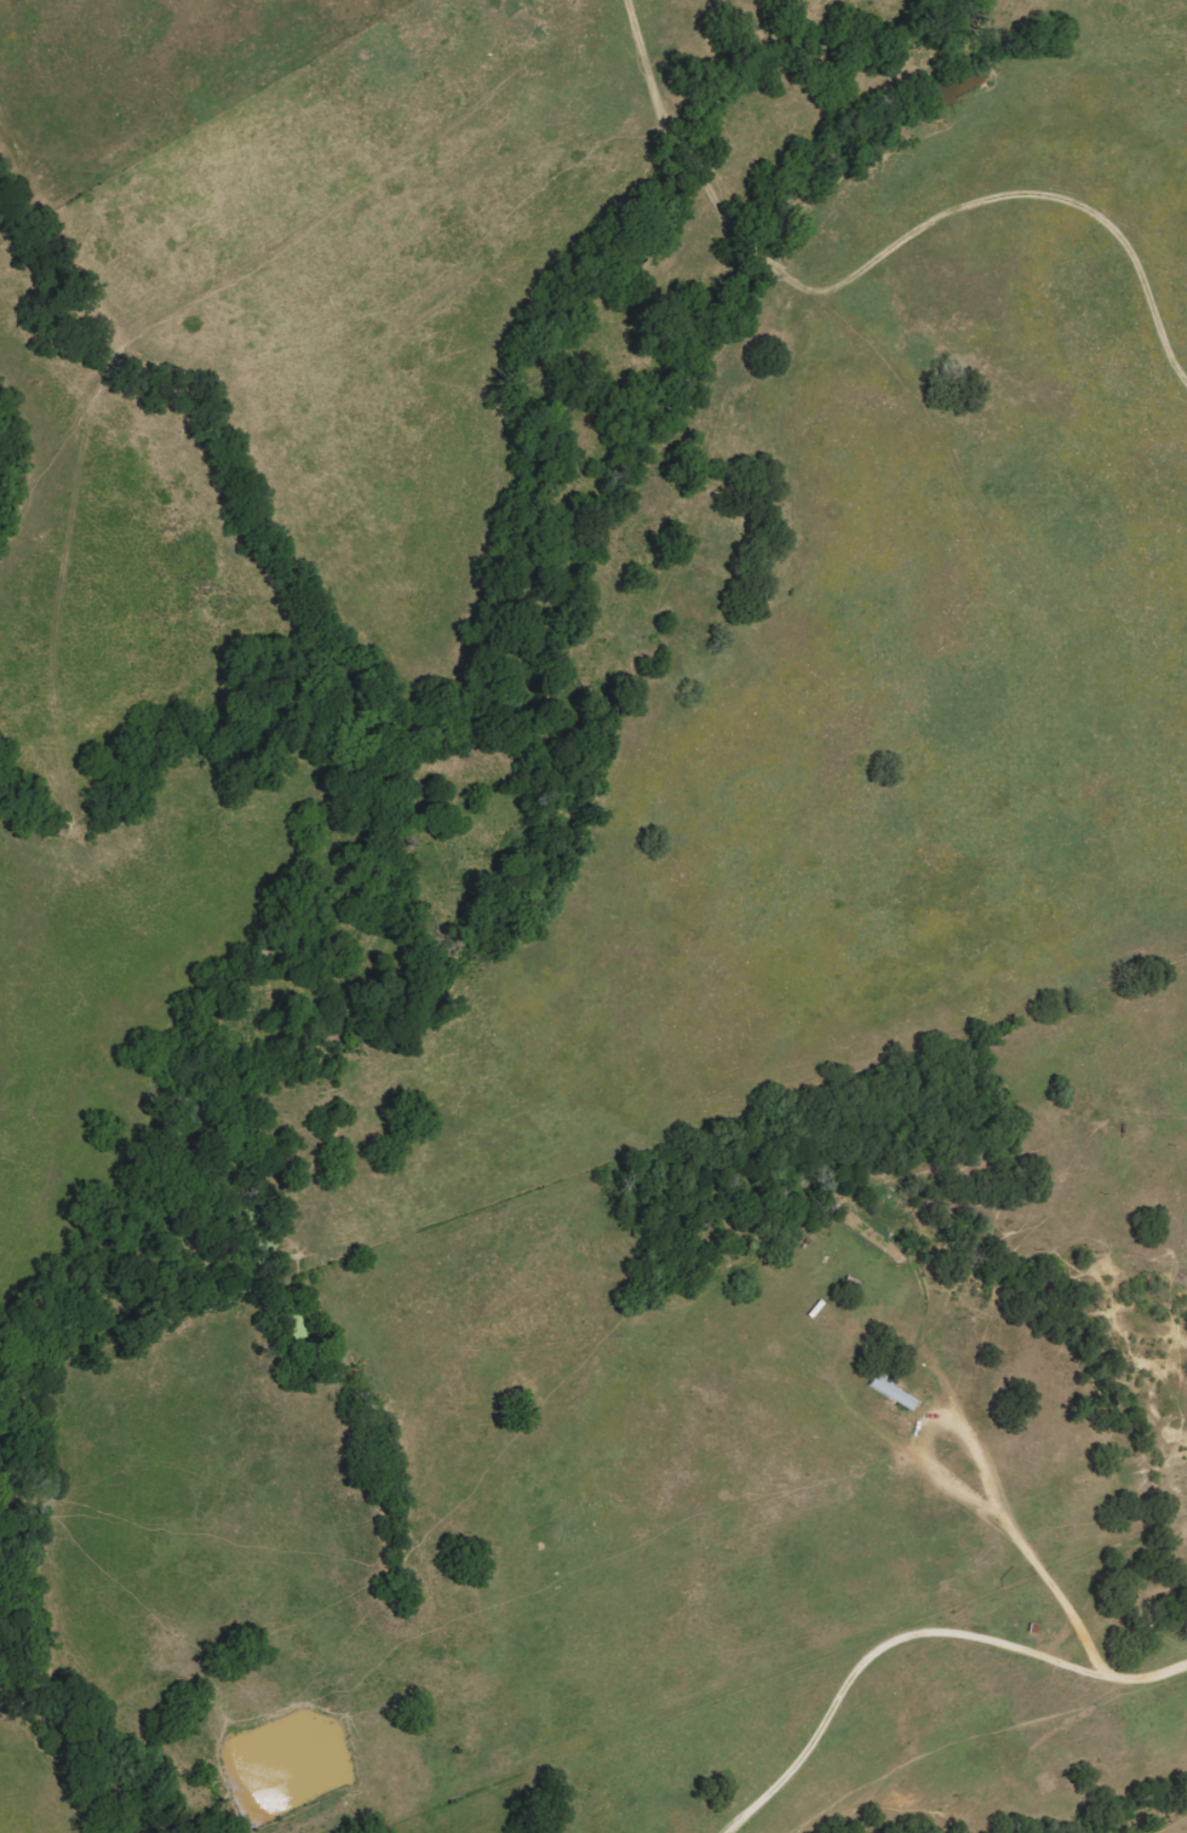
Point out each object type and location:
building: (890, 1392)
road: (1045, 1574)

